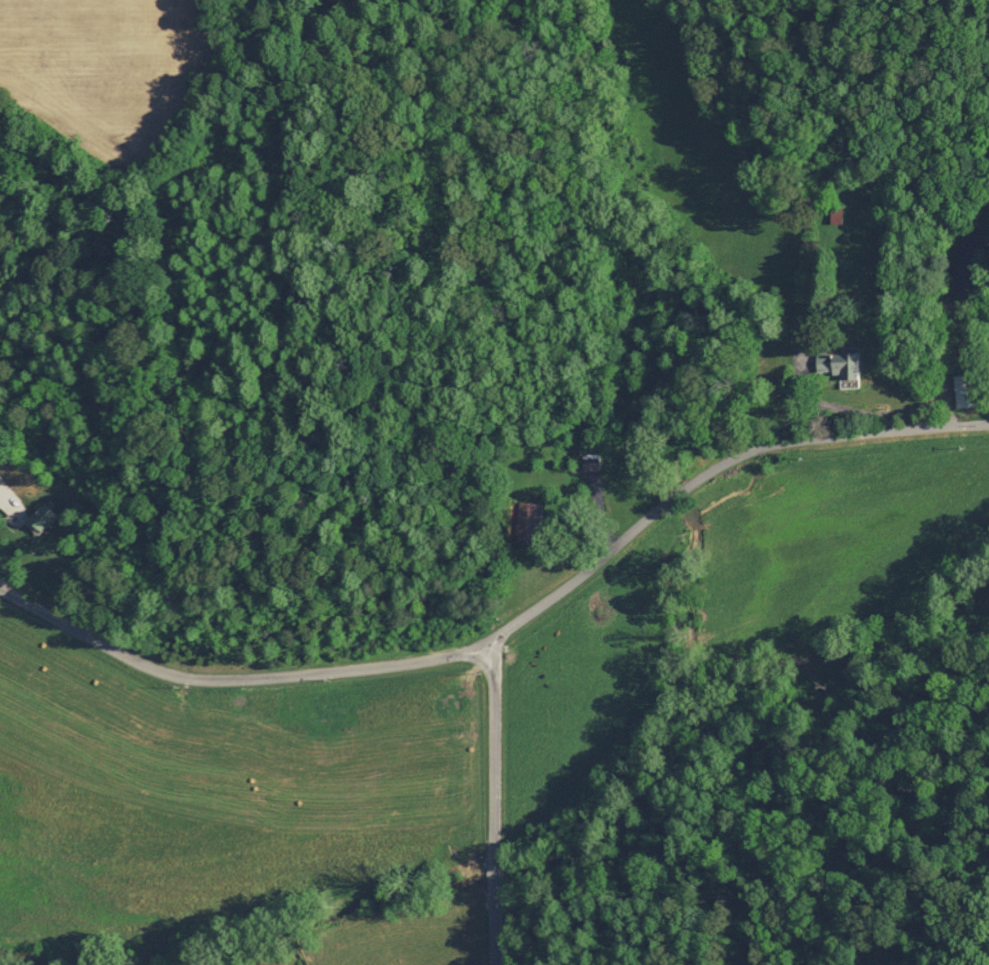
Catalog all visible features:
building: (833, 216)
building: (834, 365)
building: (963, 391)
building: (588, 463)
building: (40, 518)
building: (525, 522)
road: (508, 627)
road: (493, 803)

